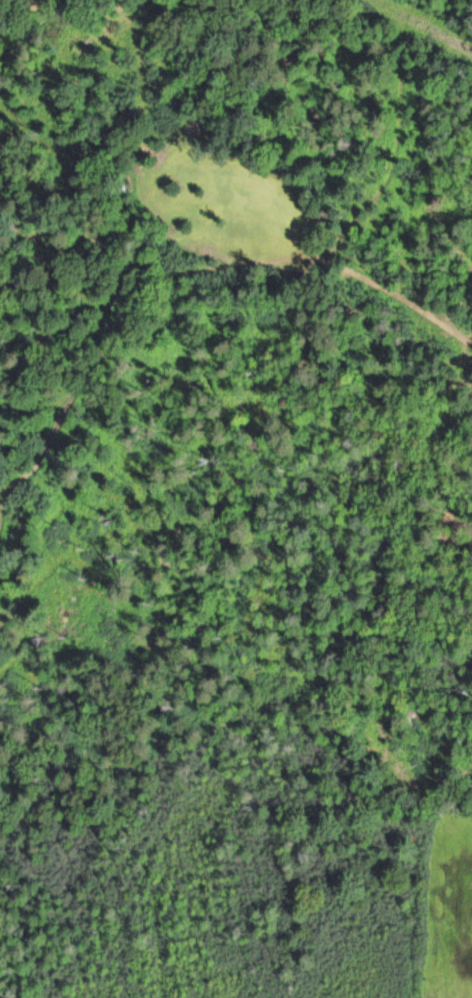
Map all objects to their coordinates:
railway: (422, 25)

